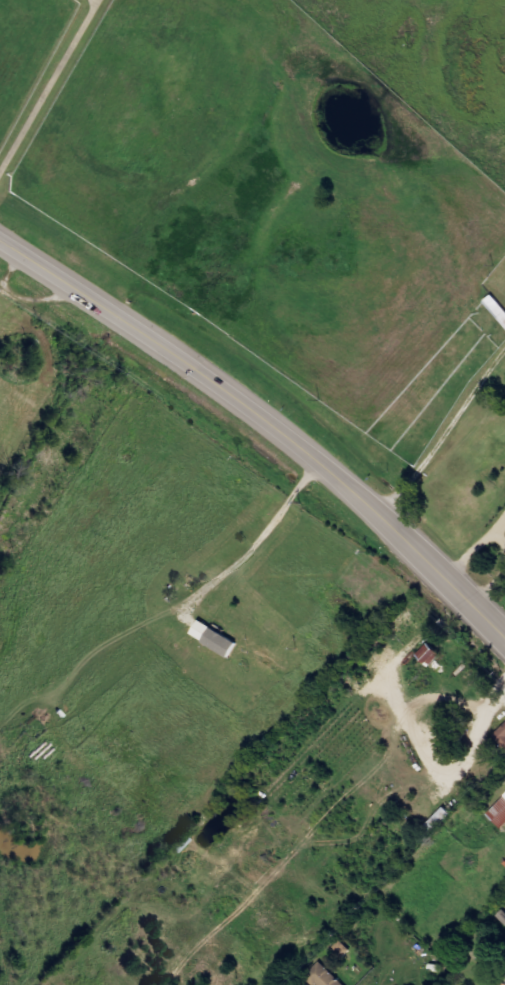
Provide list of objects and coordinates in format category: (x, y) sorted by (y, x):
building: (497, 308)
road: (266, 412)
building: (215, 639)
building: (430, 655)
building: (501, 736)
building: (499, 814)
building: (323, 976)
building: (504, 984)

